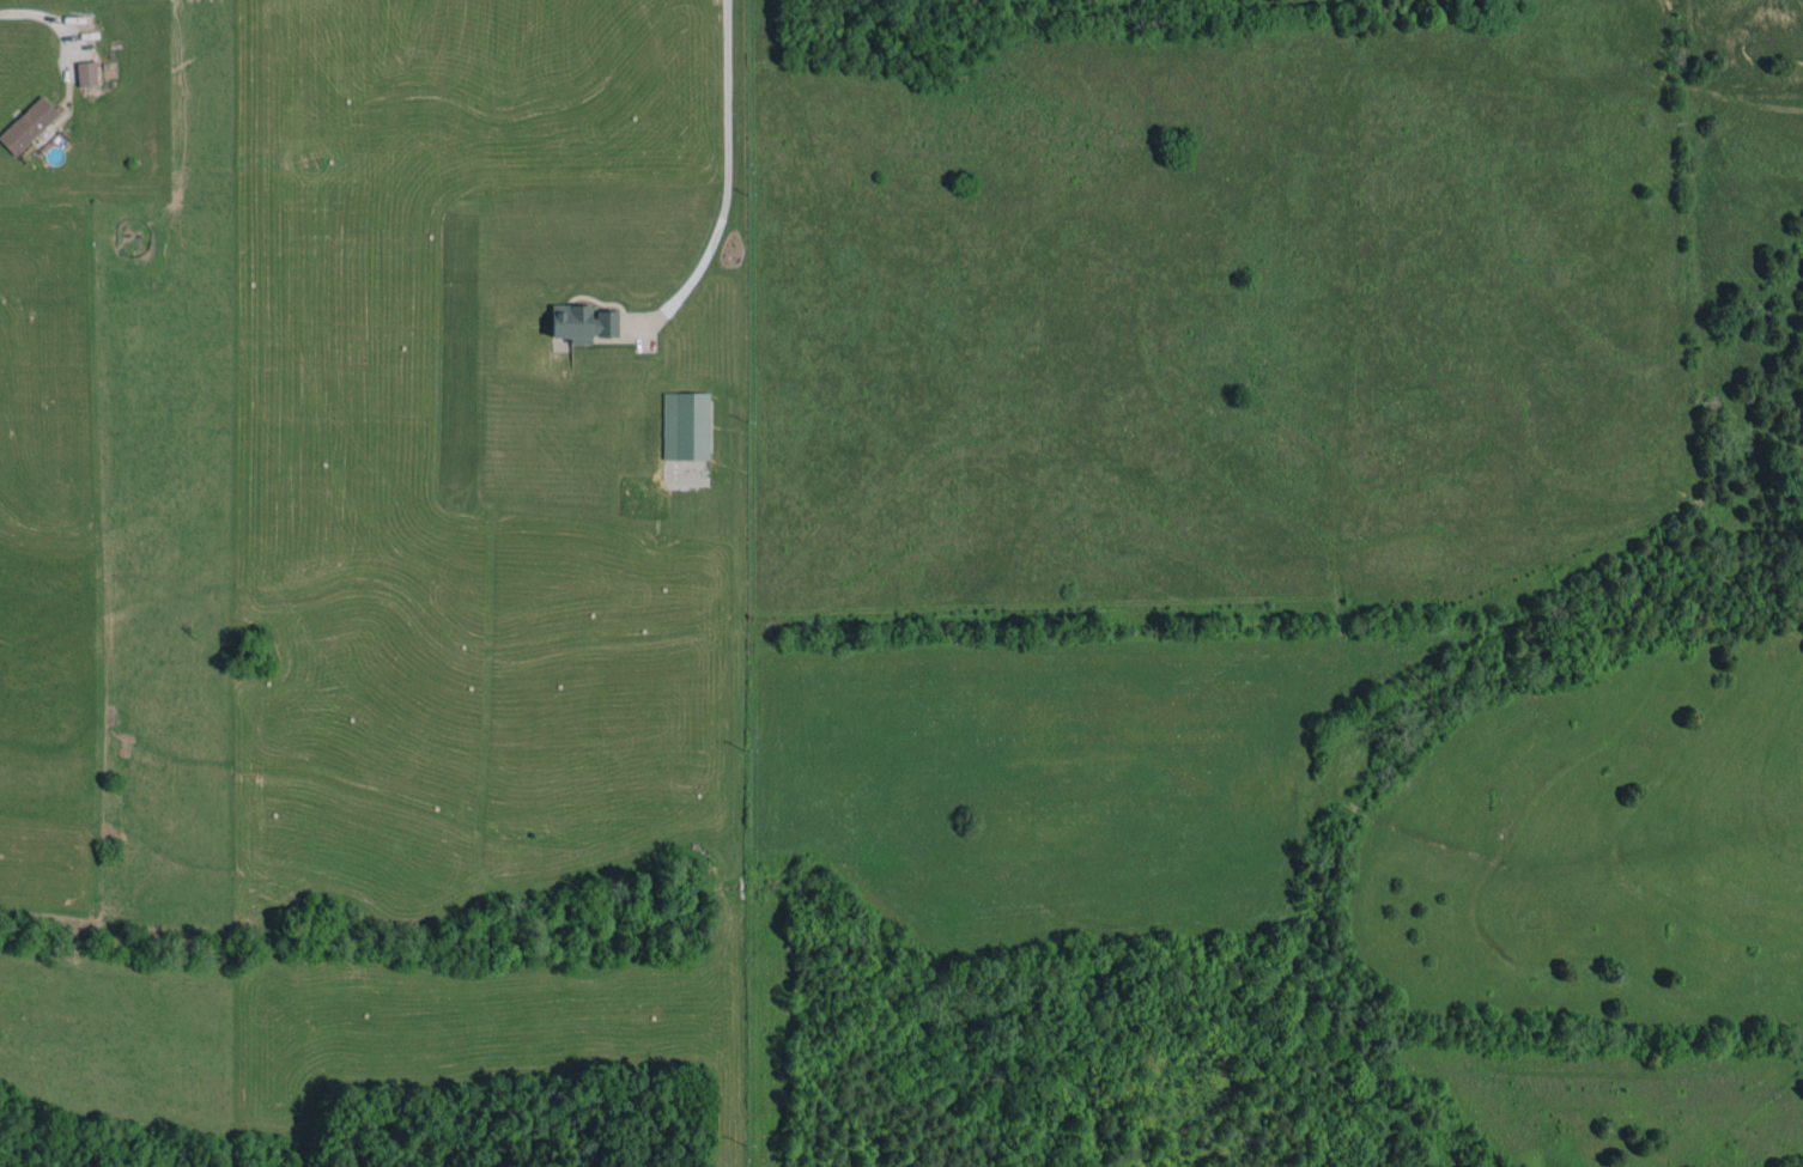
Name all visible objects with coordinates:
road: (38, 13)
building: (86, 72)
building: (28, 124)
road: (728, 187)
building: (582, 322)
building: (685, 425)

